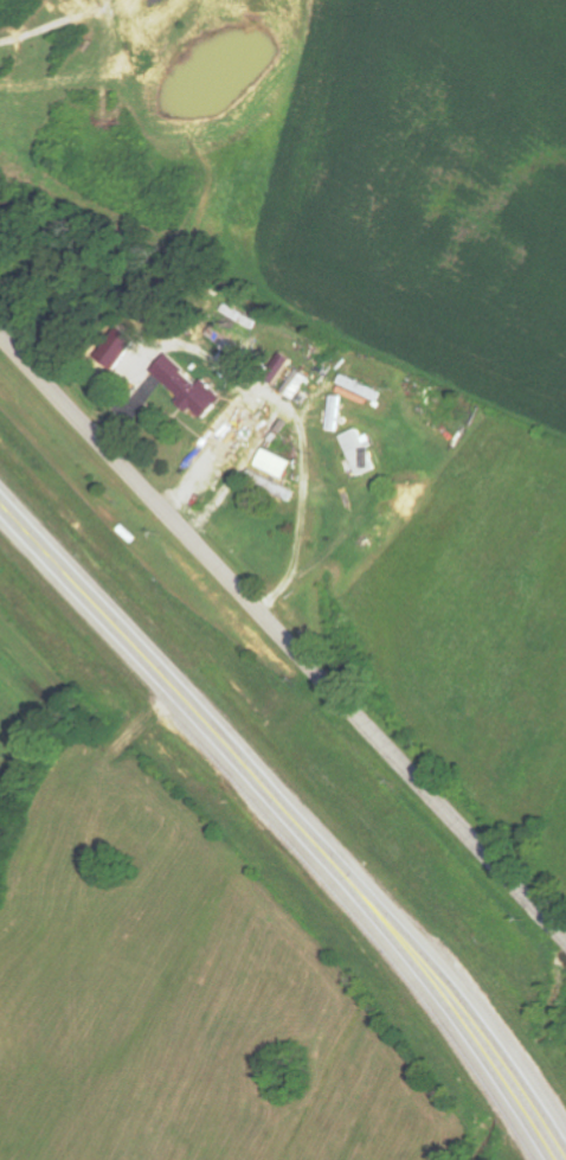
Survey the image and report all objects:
building: (295, 384)
building: (186, 387)
building: (333, 414)
building: (356, 454)
building: (274, 463)
building: (269, 486)
road: (282, 642)
road: (291, 822)
road: (551, 897)

